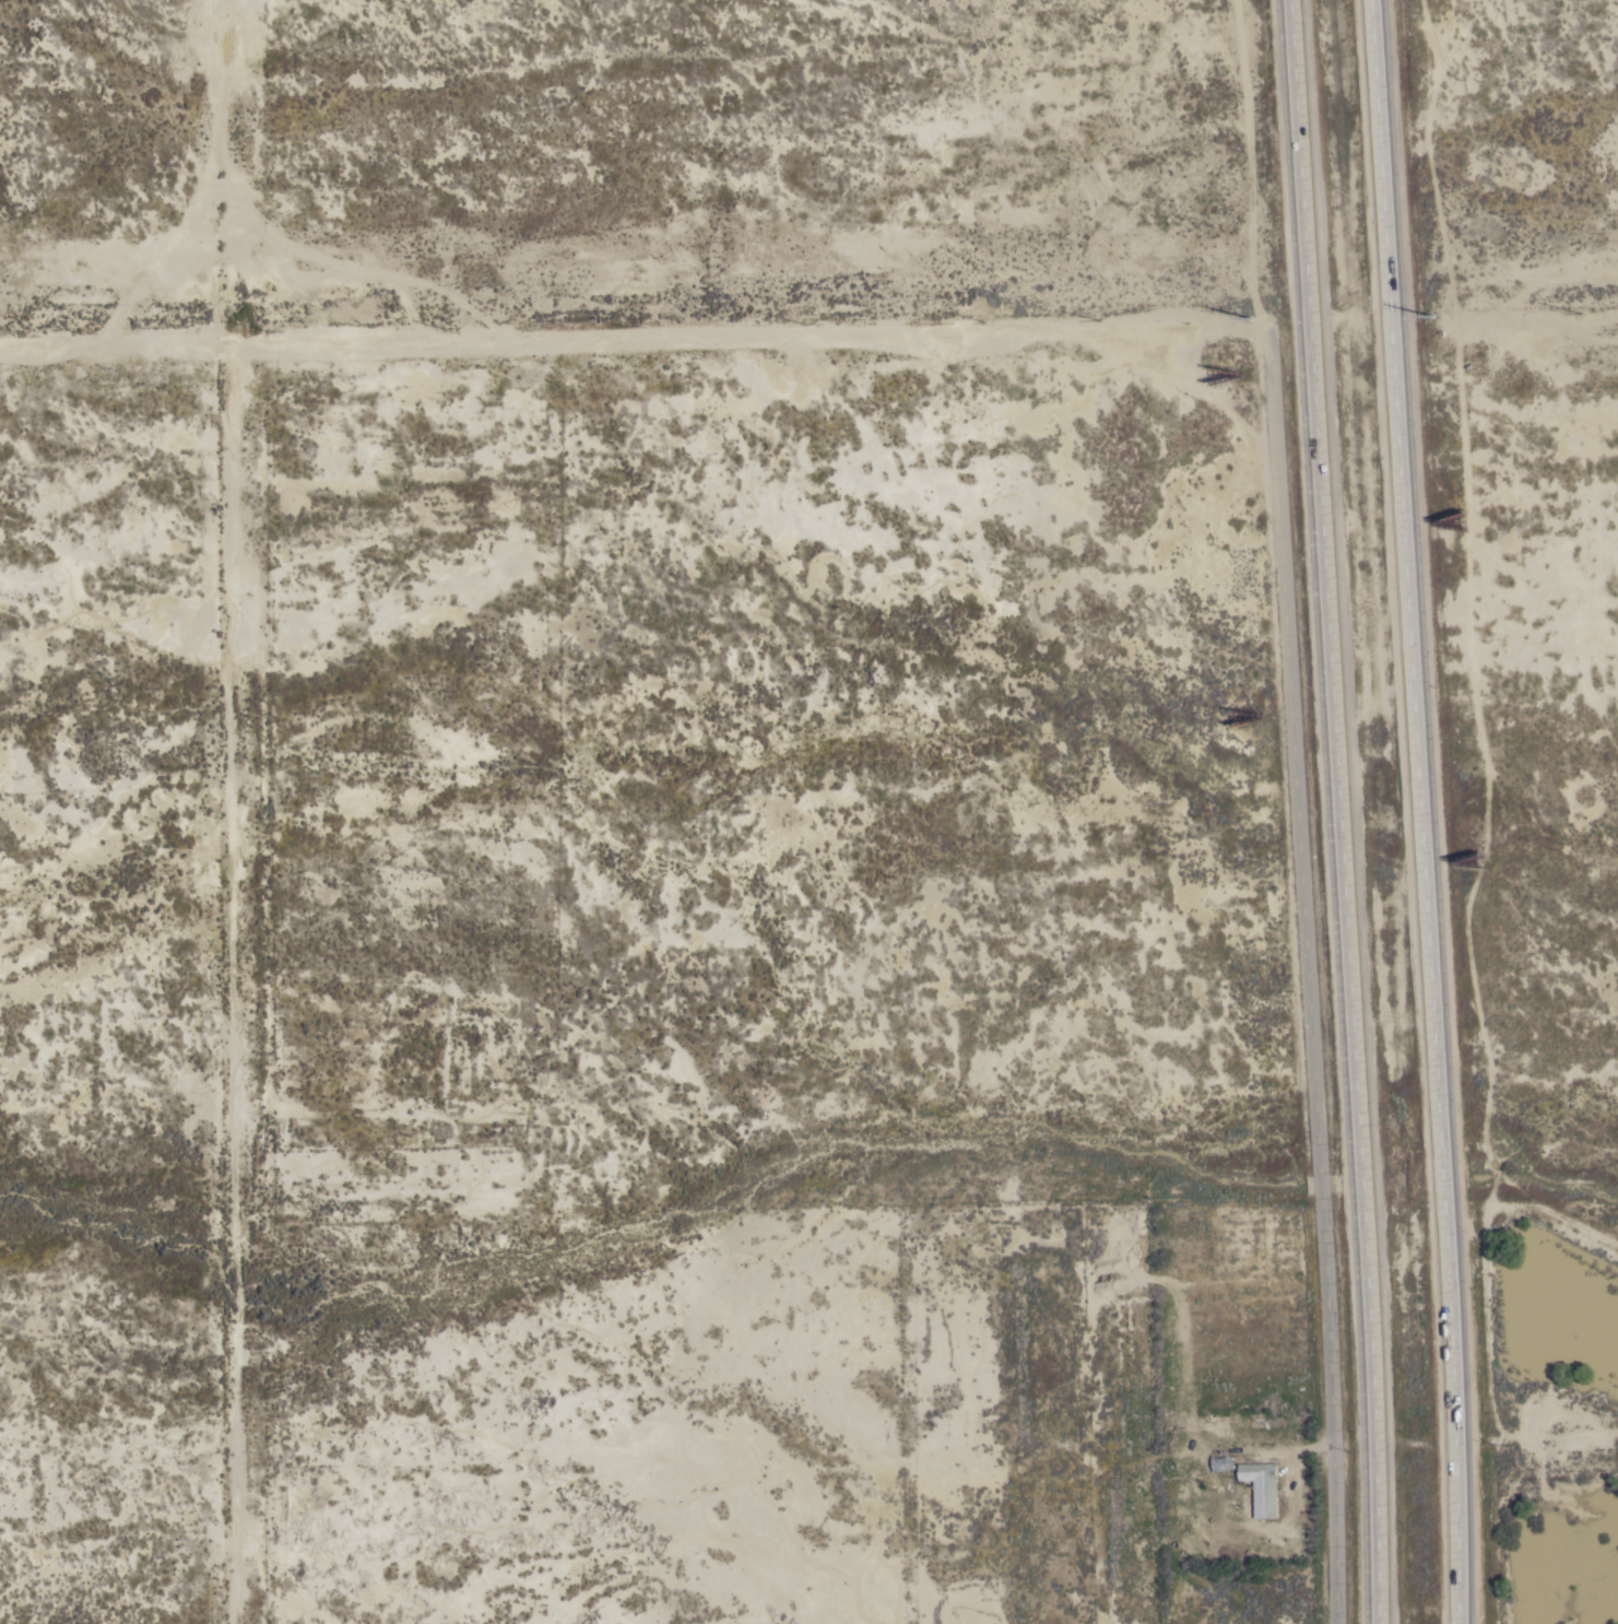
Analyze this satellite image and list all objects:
road: (231, 156)
road: (1252, 169)
road: (642, 308)
road: (1351, 317)
road: (1339, 811)
road: (1422, 811)
road: (234, 968)
road: (1310, 981)
building: (1179, 1424)
building: (1259, 1491)

